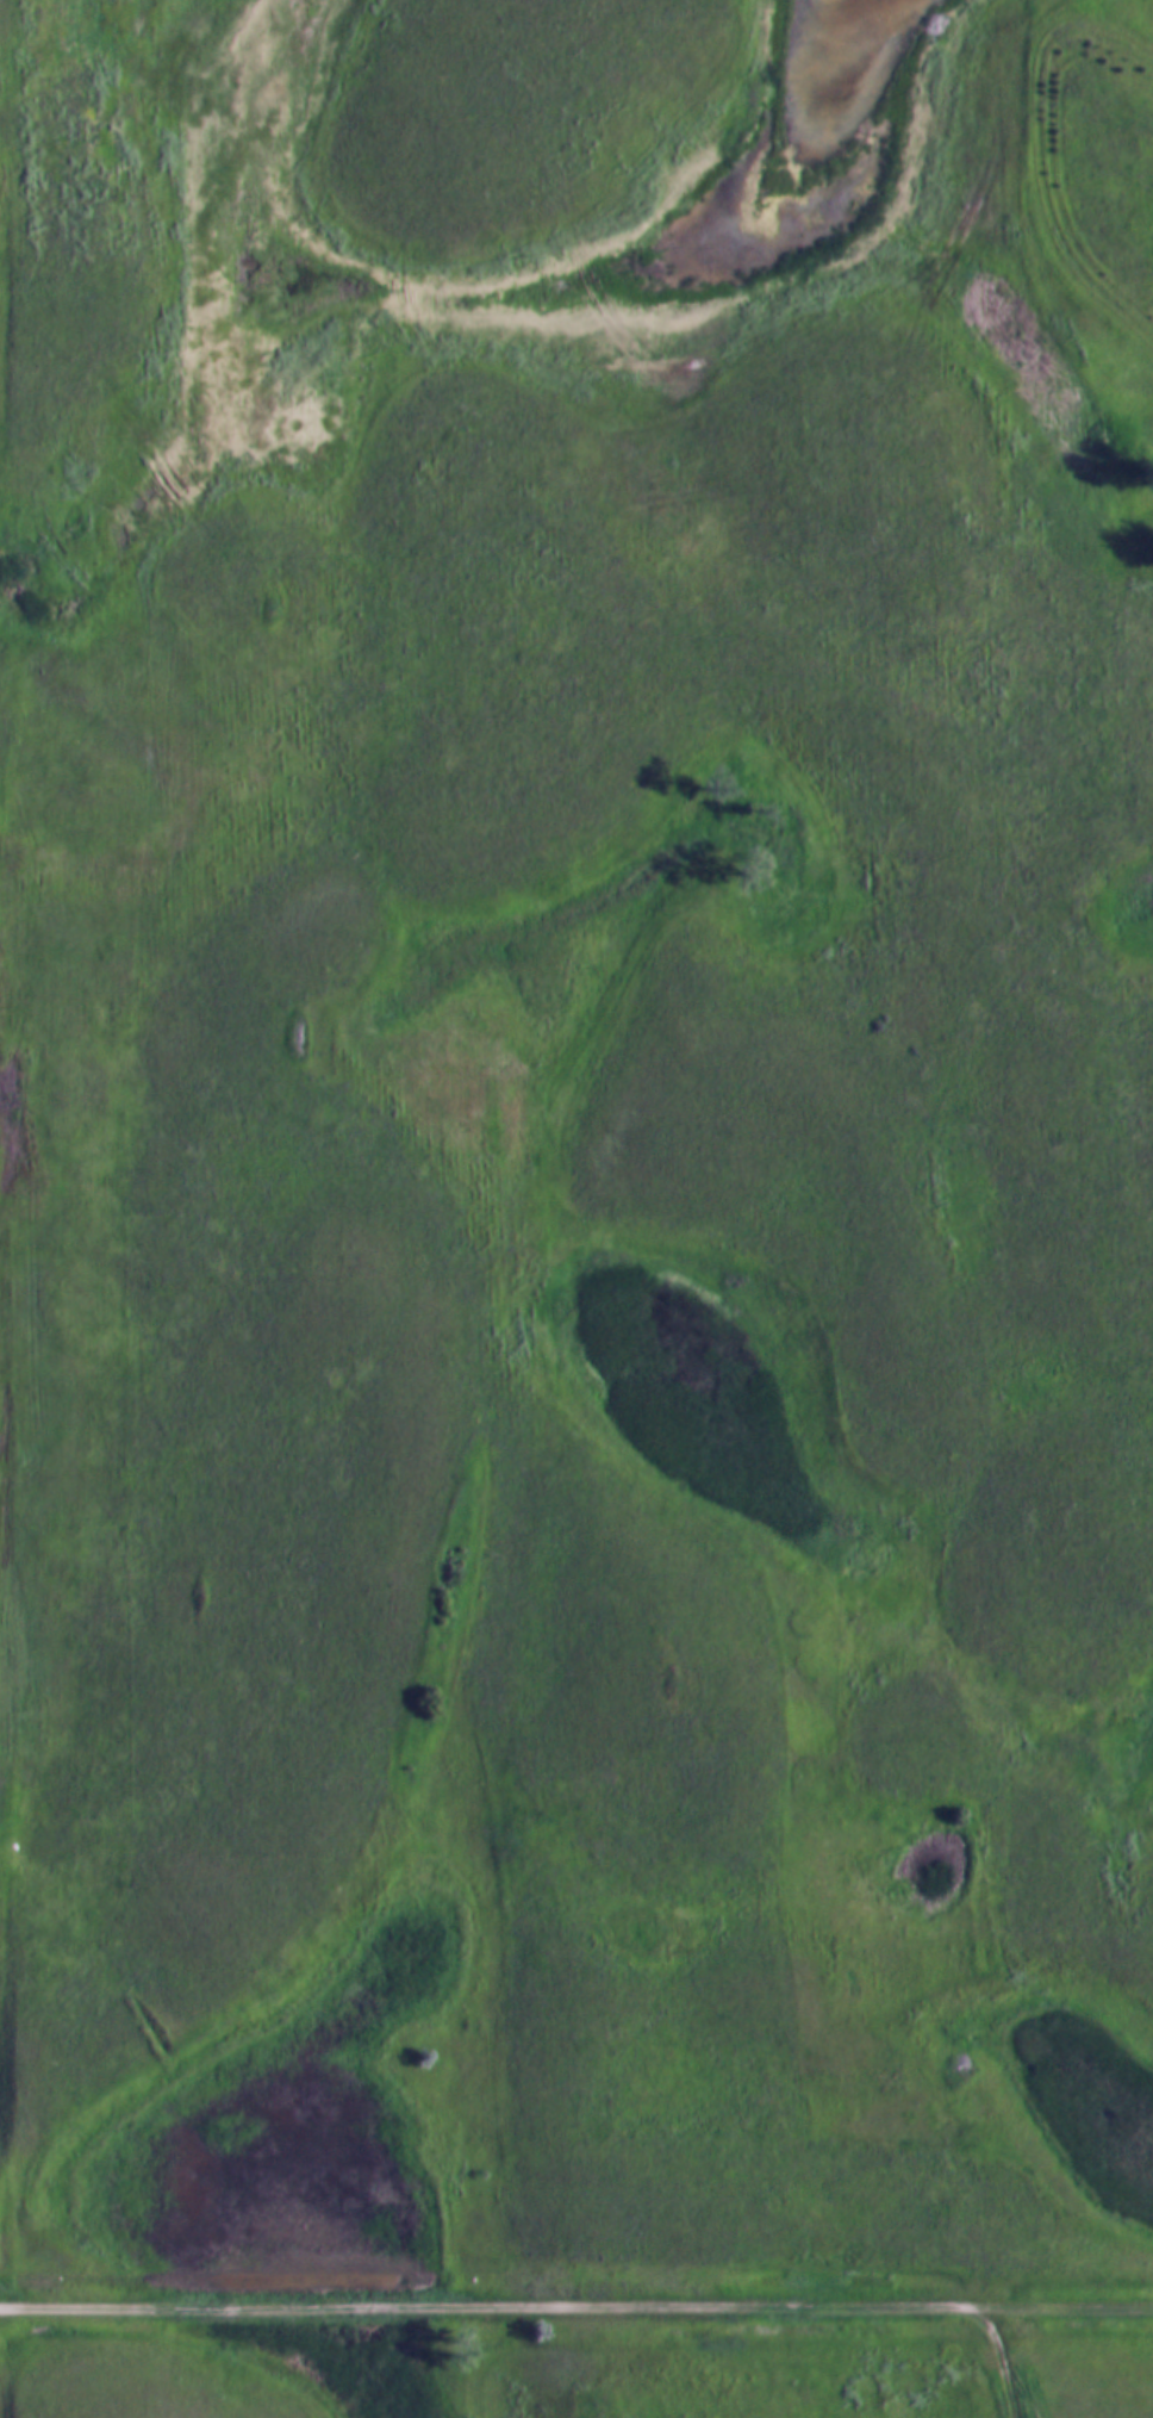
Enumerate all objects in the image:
road: (575, 2311)
road: (1001, 2362)

